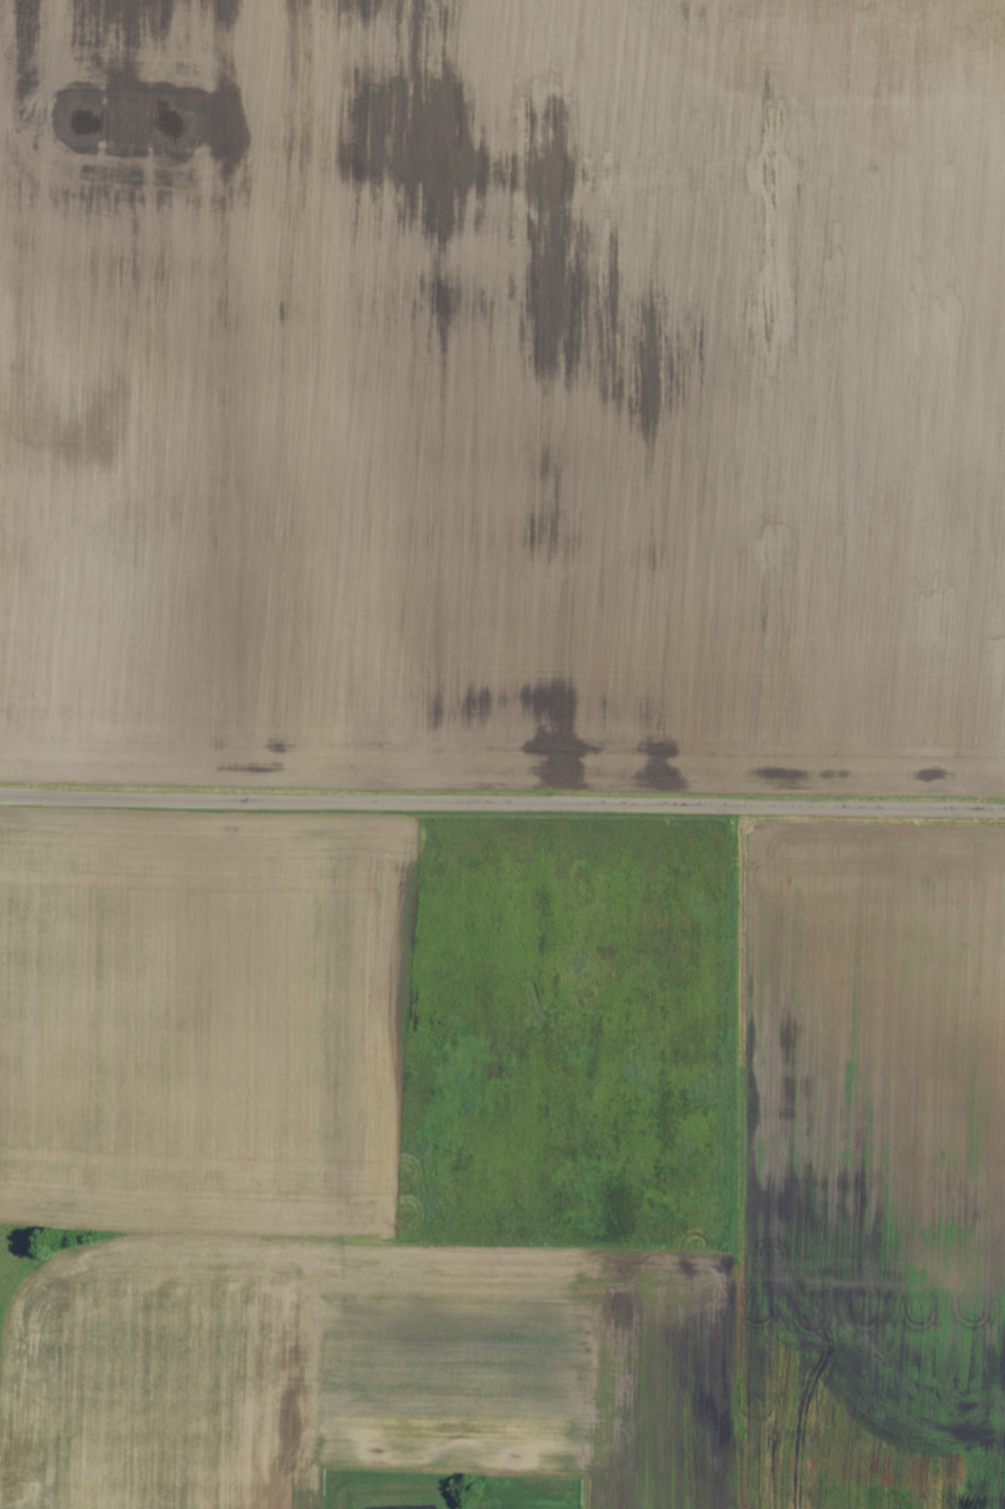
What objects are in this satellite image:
road: (502, 806)

